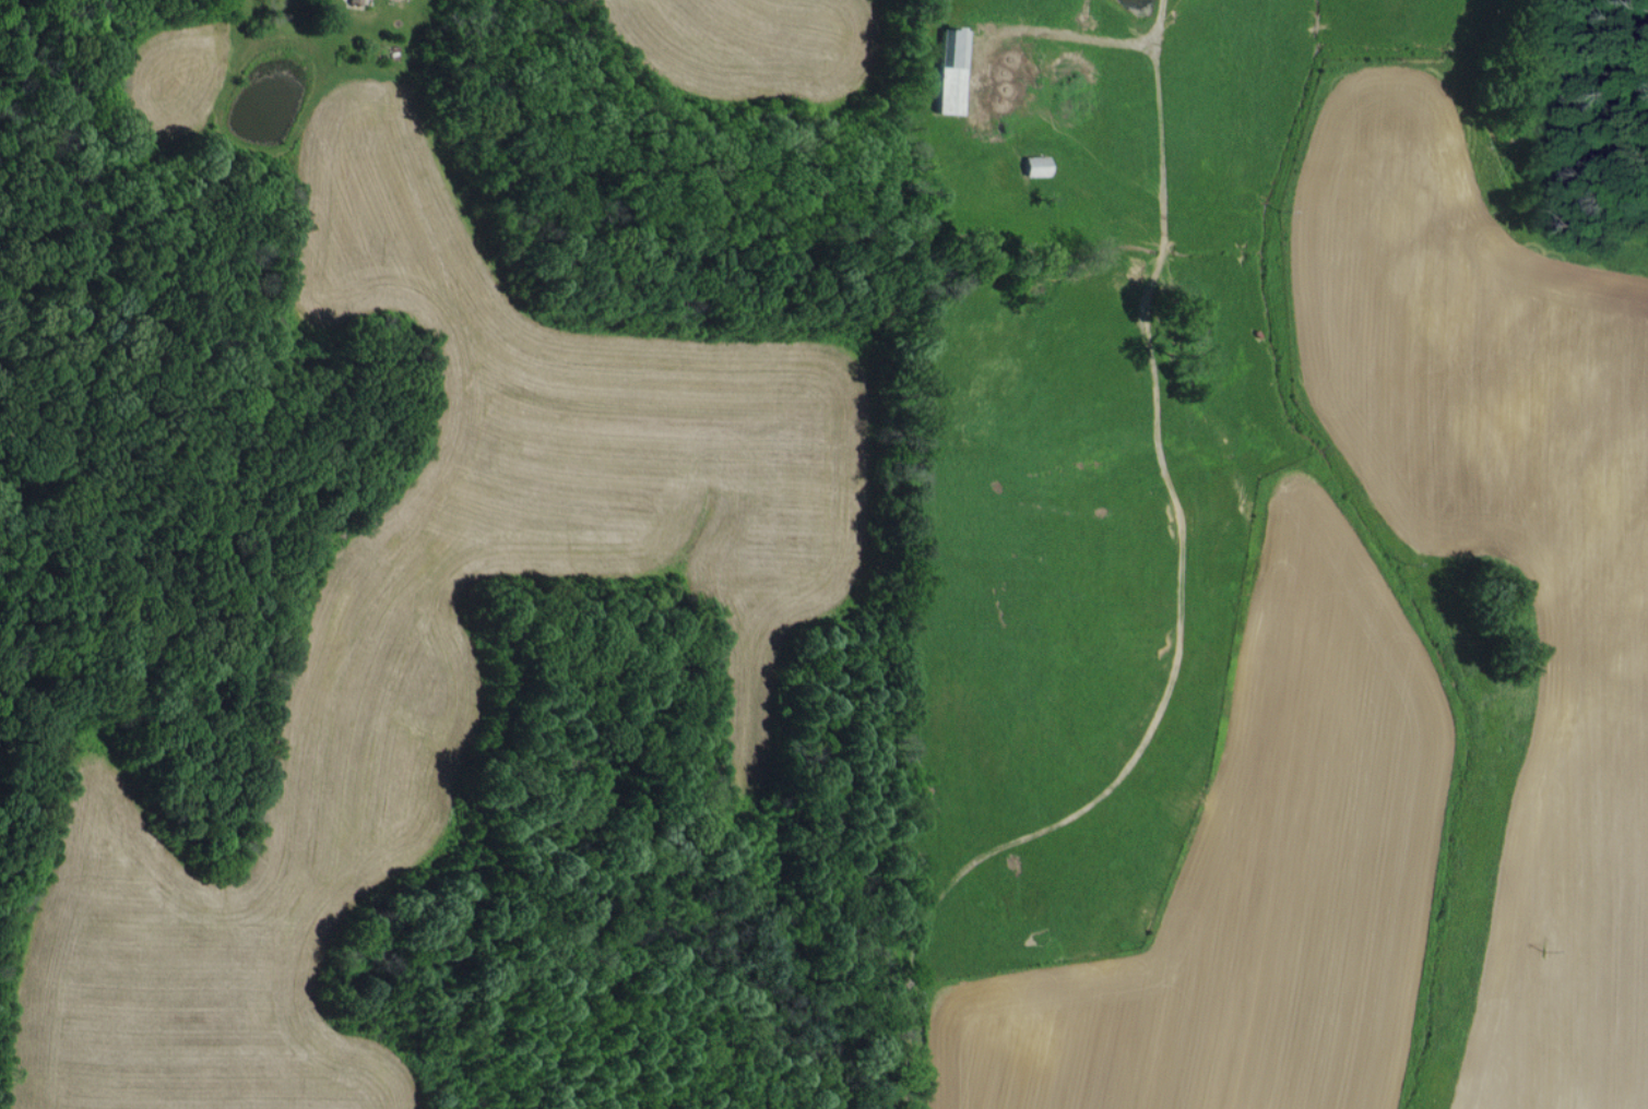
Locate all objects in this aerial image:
building: (356, 0)
building: (952, 70)

